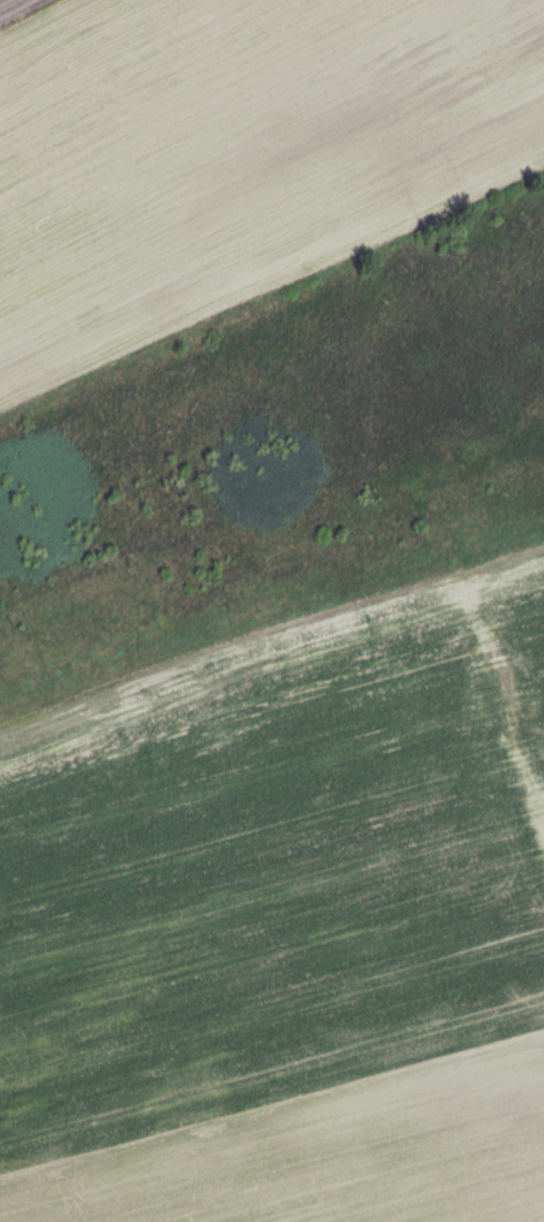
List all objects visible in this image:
railway: (11, 5)

